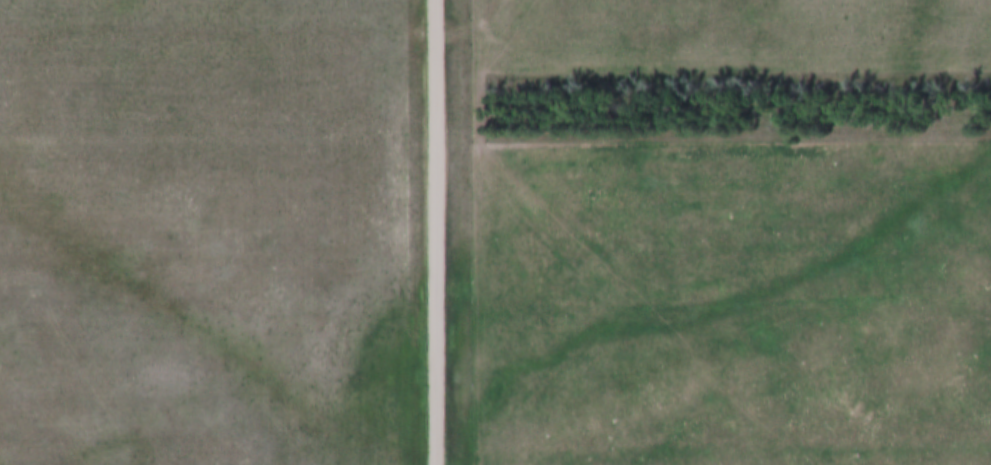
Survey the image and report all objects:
road: (437, 232)

